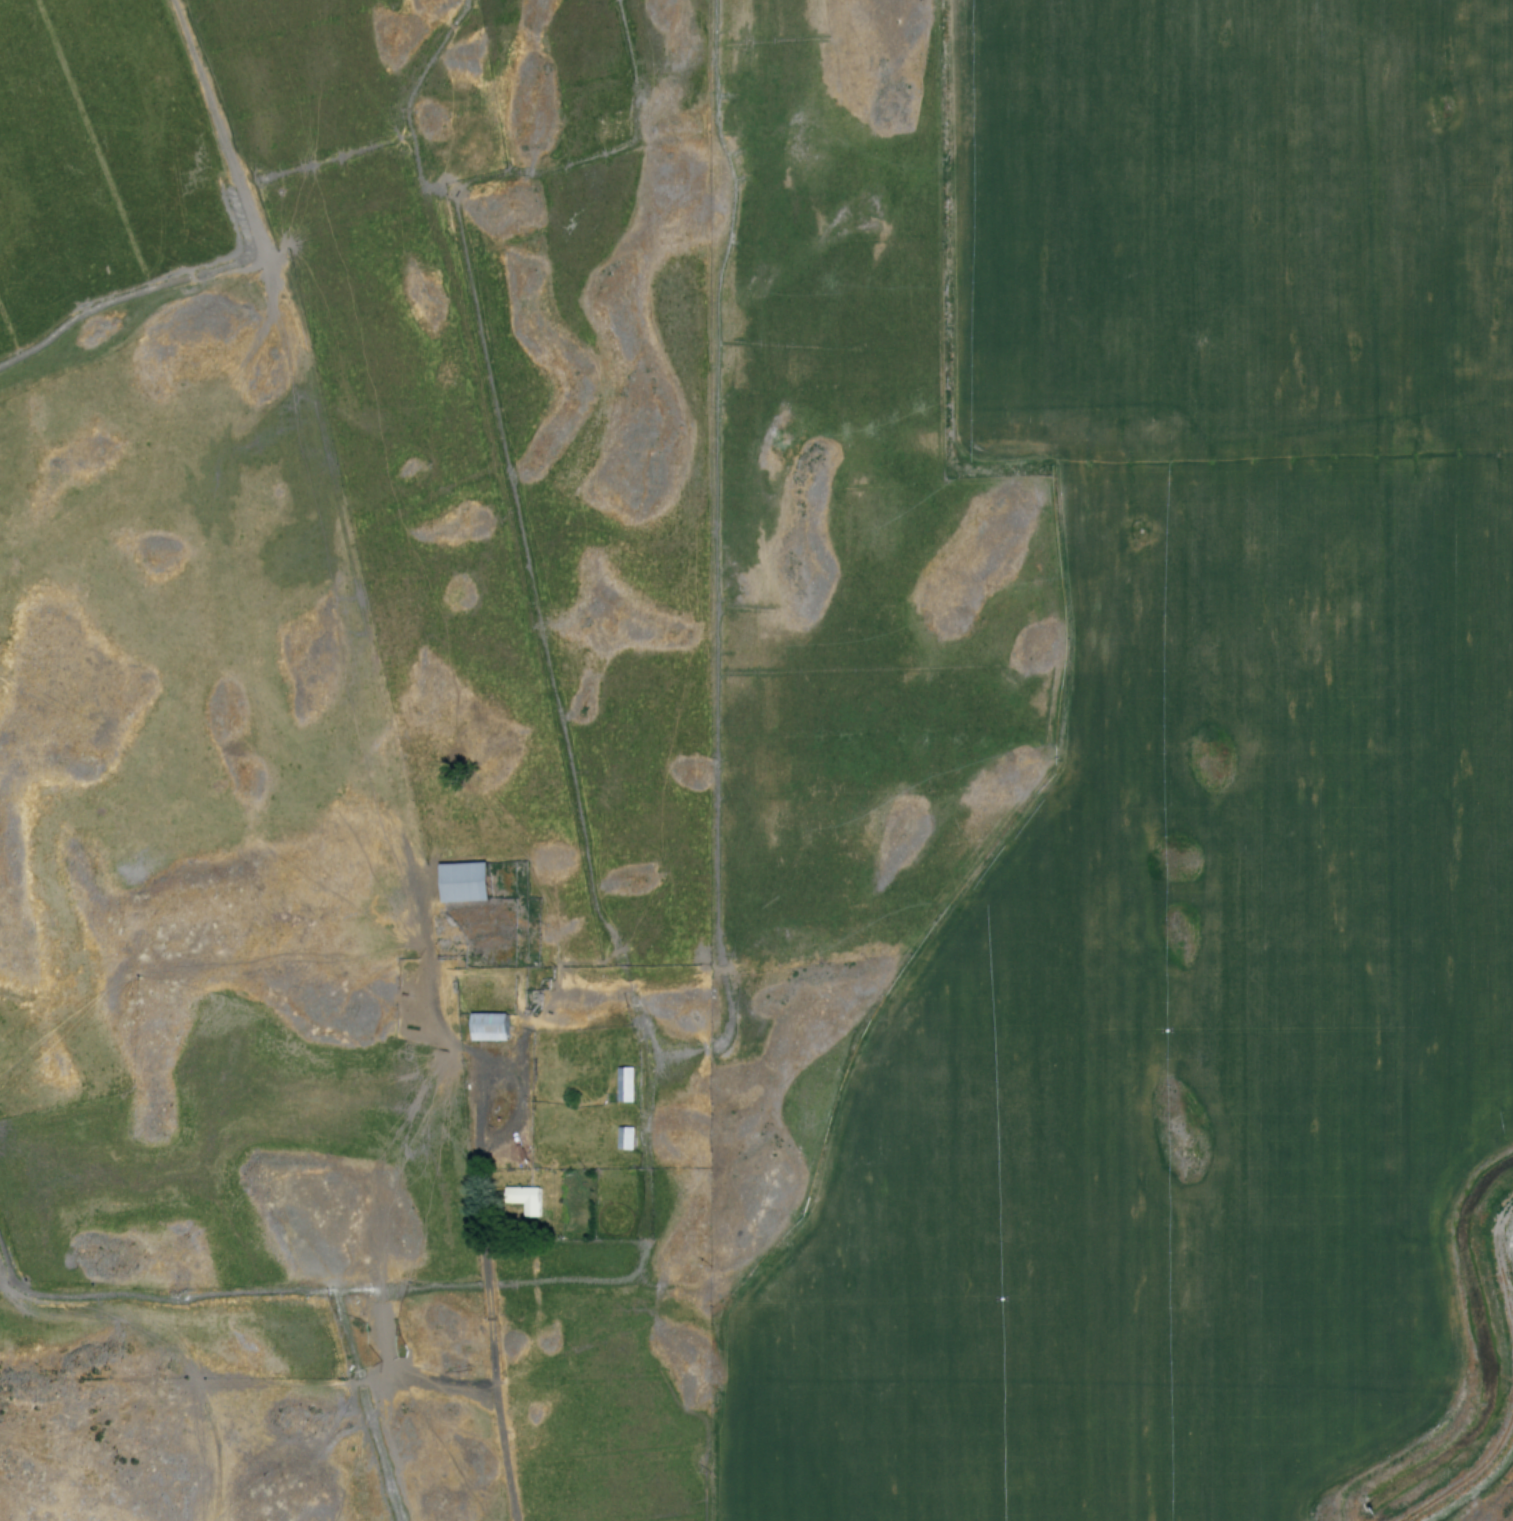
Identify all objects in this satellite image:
building: (461, 881)
building: (488, 1026)
building: (624, 1084)
building: (624, 1137)
building: (524, 1199)
road: (501, 1406)

